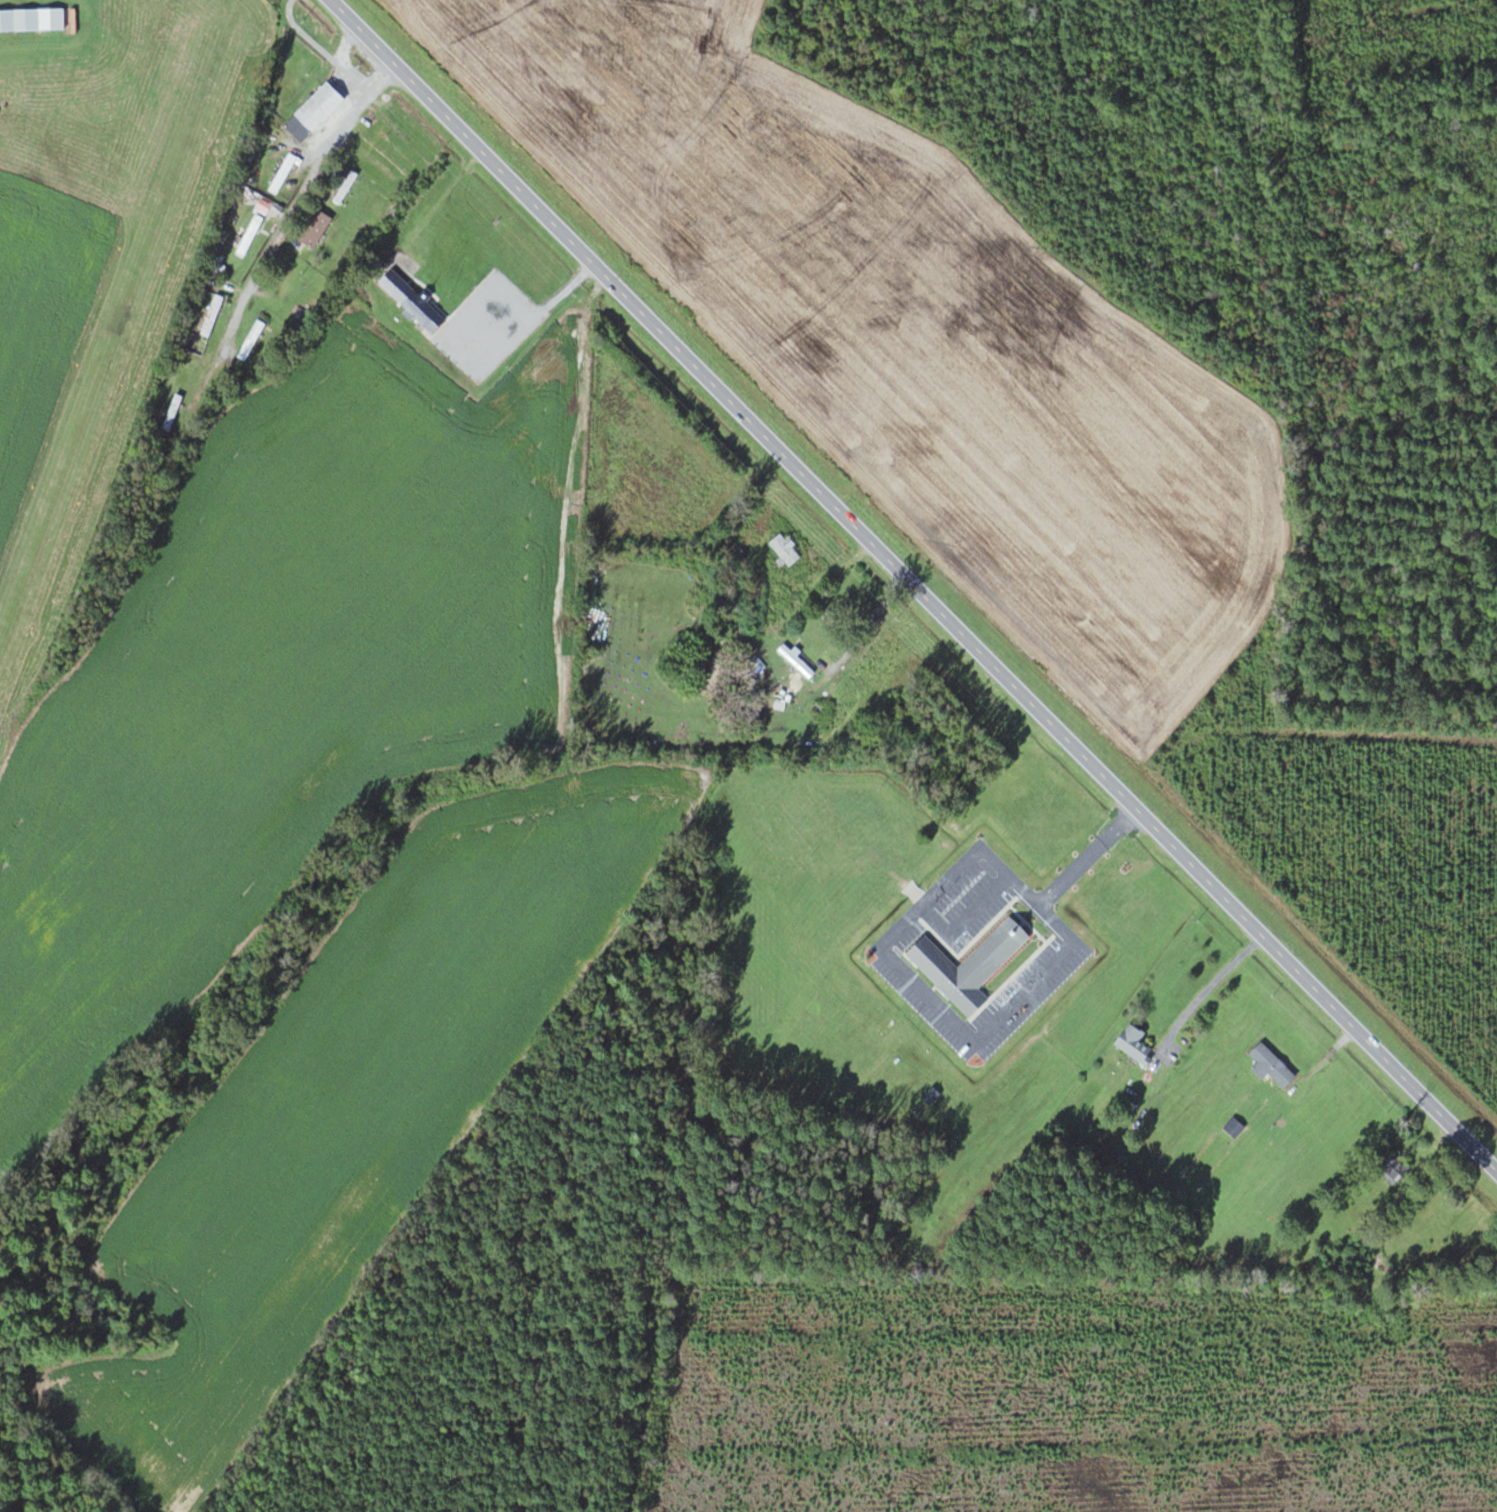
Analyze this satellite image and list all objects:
building: (19, 17)
building: (315, 109)
building: (373, 140)
building: (283, 171)
building: (345, 185)
road: (286, 222)
building: (316, 227)
building: (250, 231)
airport: (100, 247)
building: (285, 278)
building: (413, 299)
building: (211, 313)
airport runway: (116, 340)
building: (172, 411)
building: (785, 548)
road: (912, 586)
building: (796, 660)
building: (977, 964)
building: (1135, 1042)
building: (1272, 1065)
building: (1398, 1169)
building: (1385, 1267)

